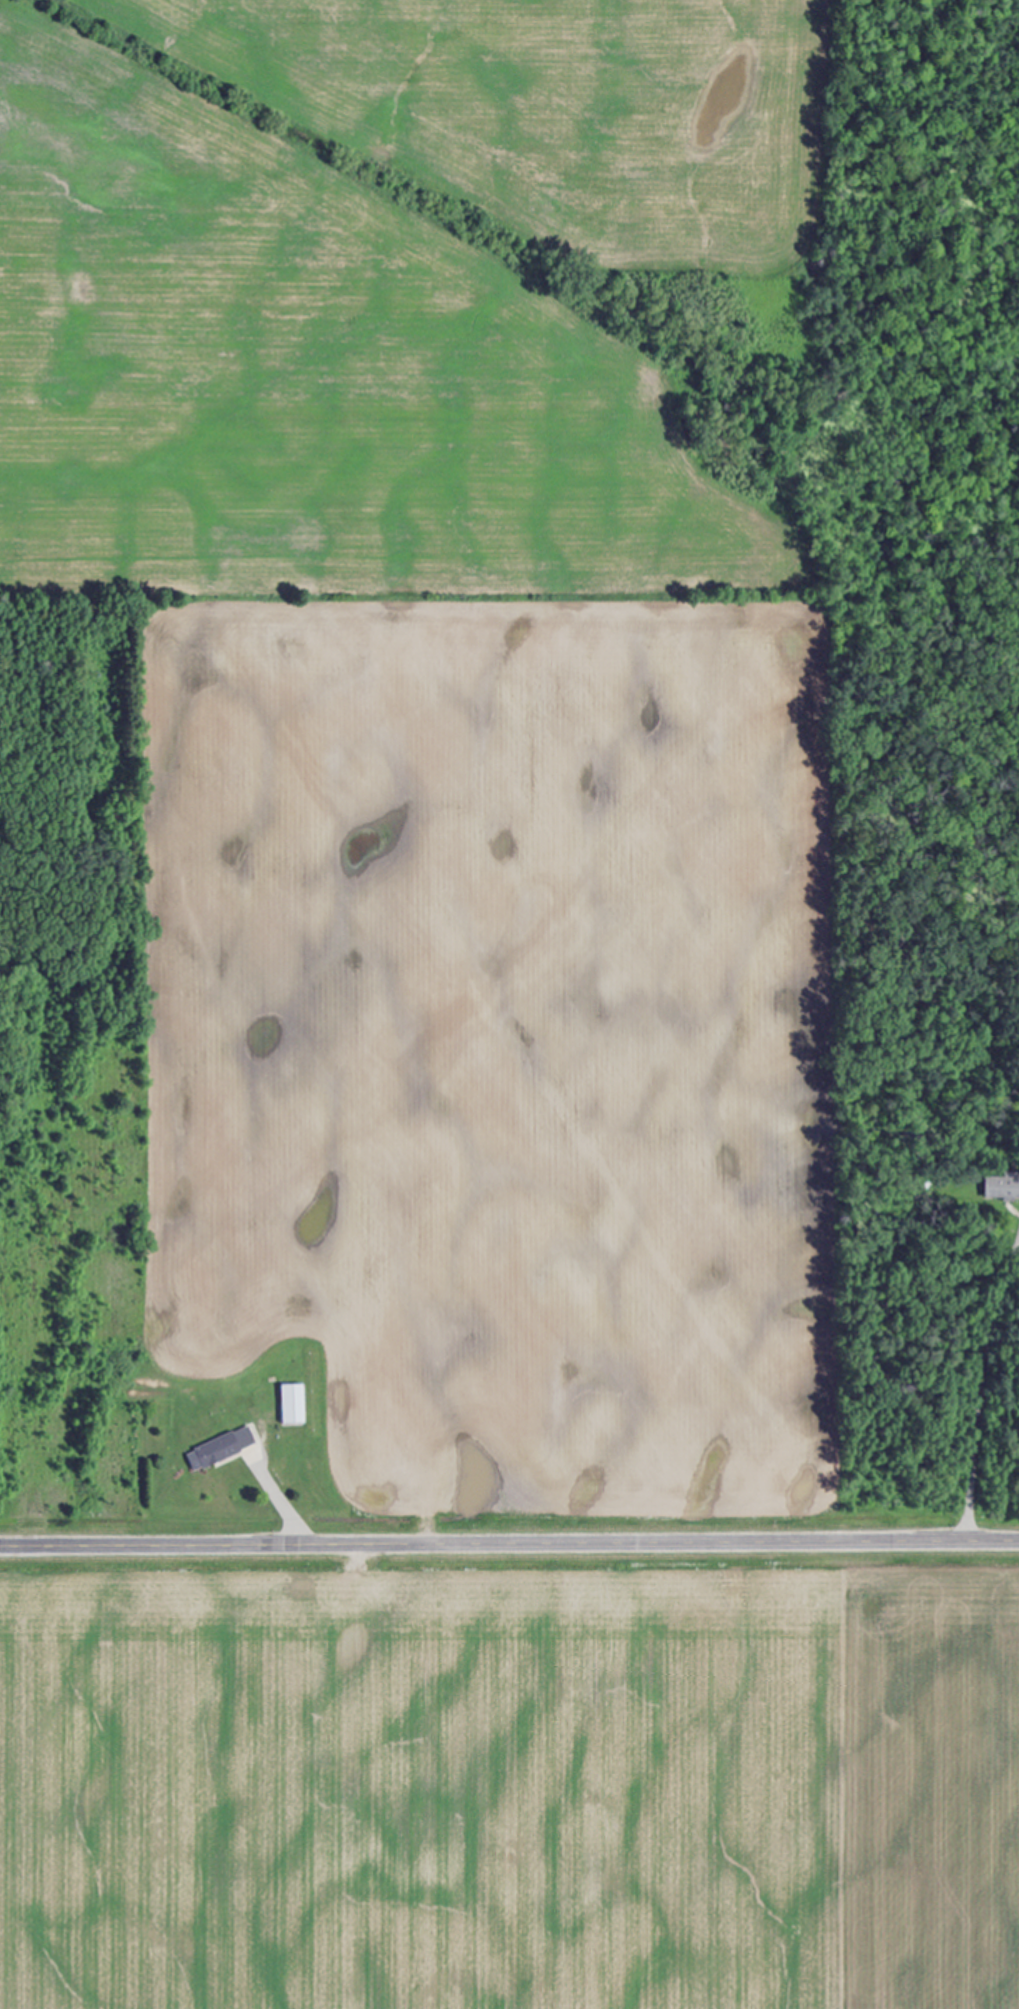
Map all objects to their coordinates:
building: (1002, 1188)
road: (975, 1400)
building: (293, 1405)
building: (220, 1449)
road: (288, 1512)
road: (509, 1541)

